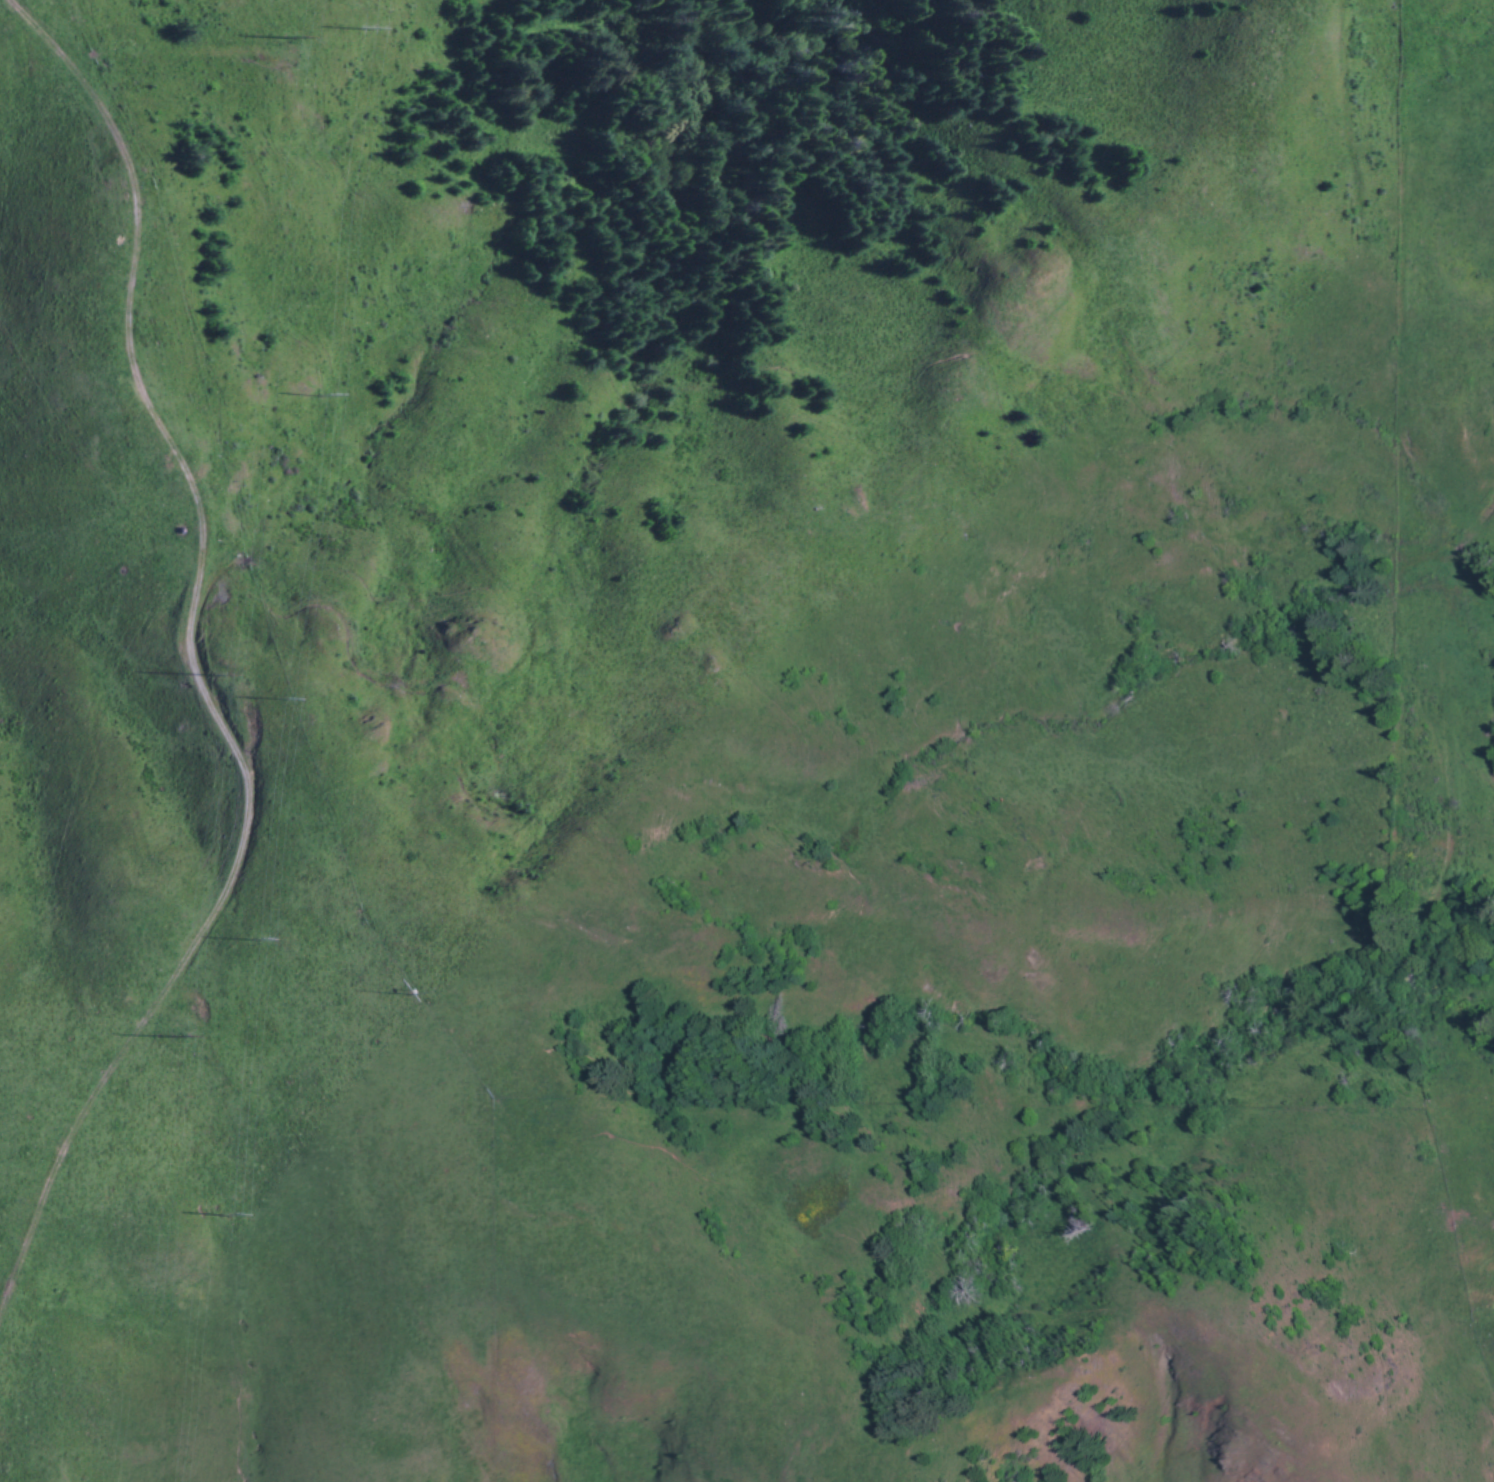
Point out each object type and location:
road: (206, 493)

